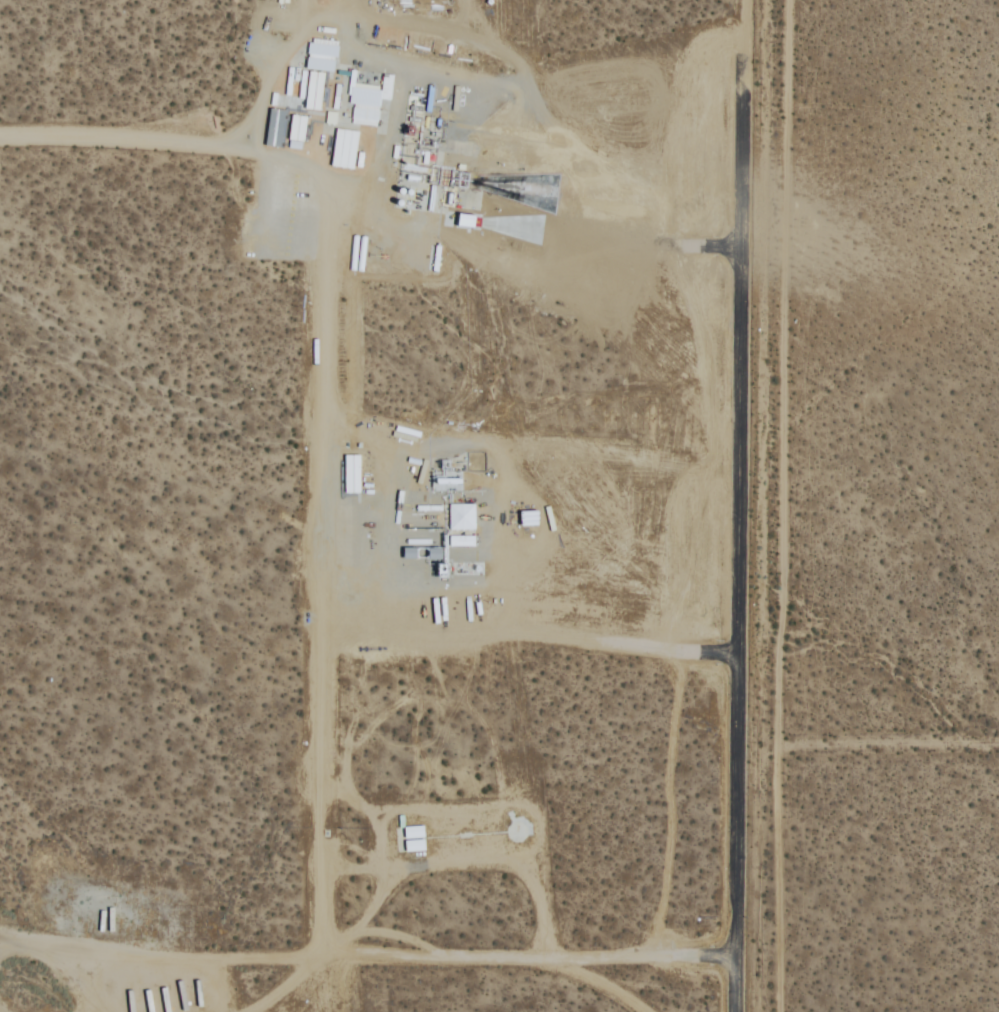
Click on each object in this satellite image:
road: (117, 134)
airport: (378, 505)
road: (784, 506)
road: (317, 519)
road: (477, 961)
road: (601, 984)

